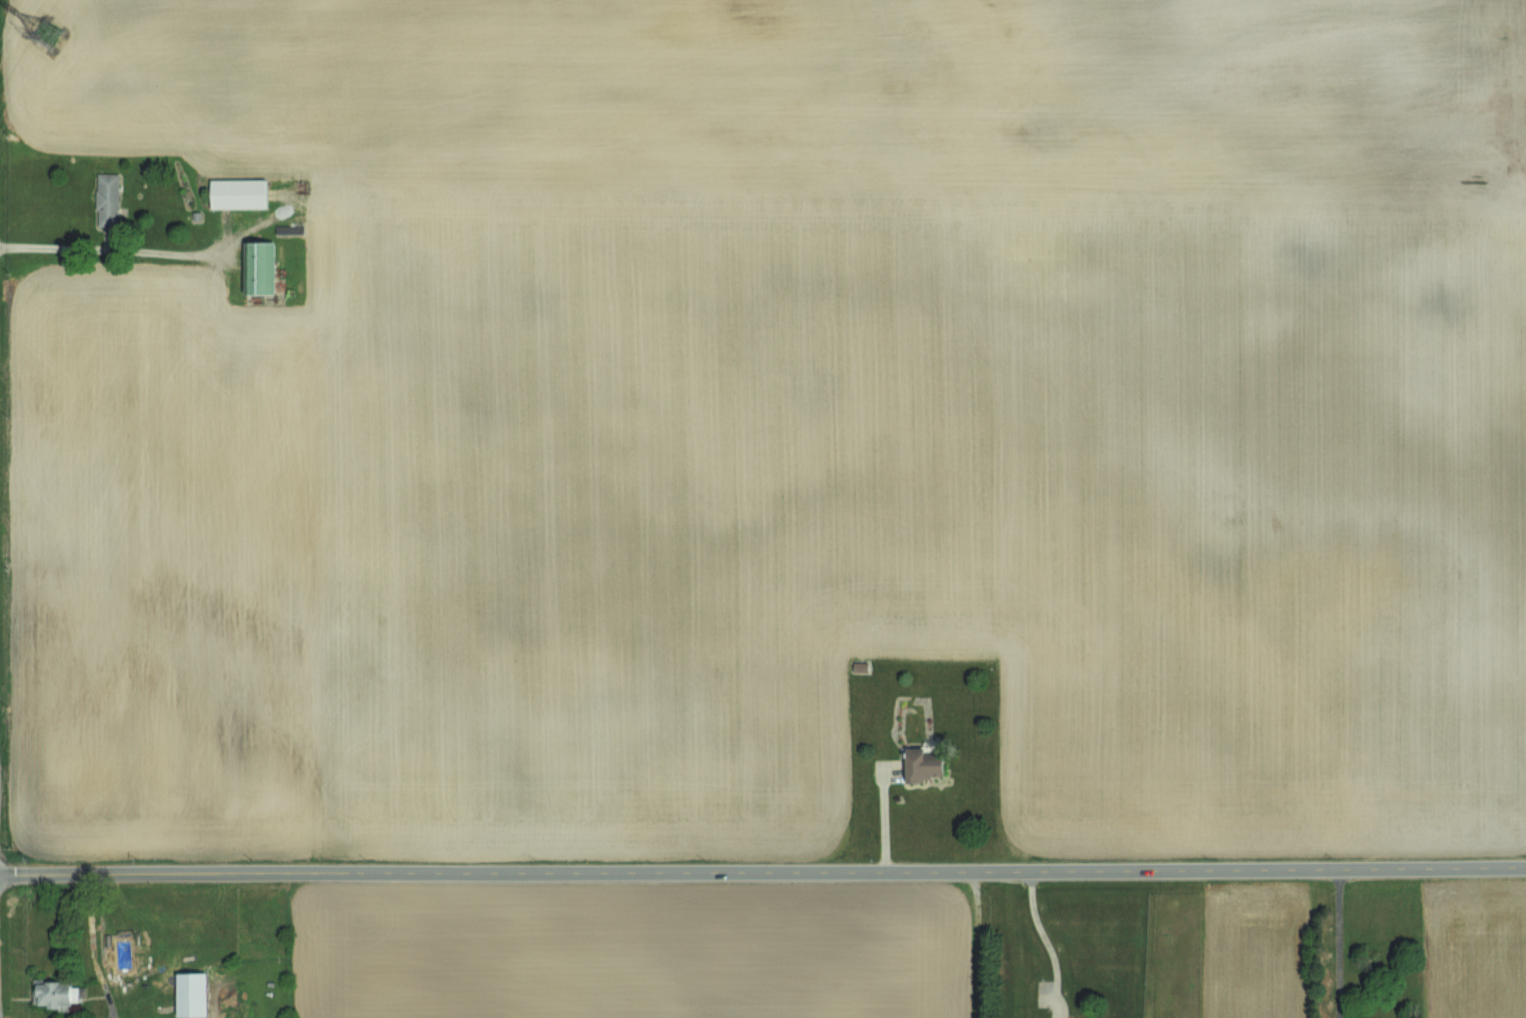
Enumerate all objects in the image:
power tower: (62, 15)
building: (238, 193)
building: (108, 199)
road: (117, 248)
building: (258, 267)
building: (923, 764)
road: (878, 818)
road: (763, 872)
road: (1040, 941)
road: (1342, 942)
road: (980, 944)
road: (91, 947)
building: (54, 993)
building: (192, 994)

